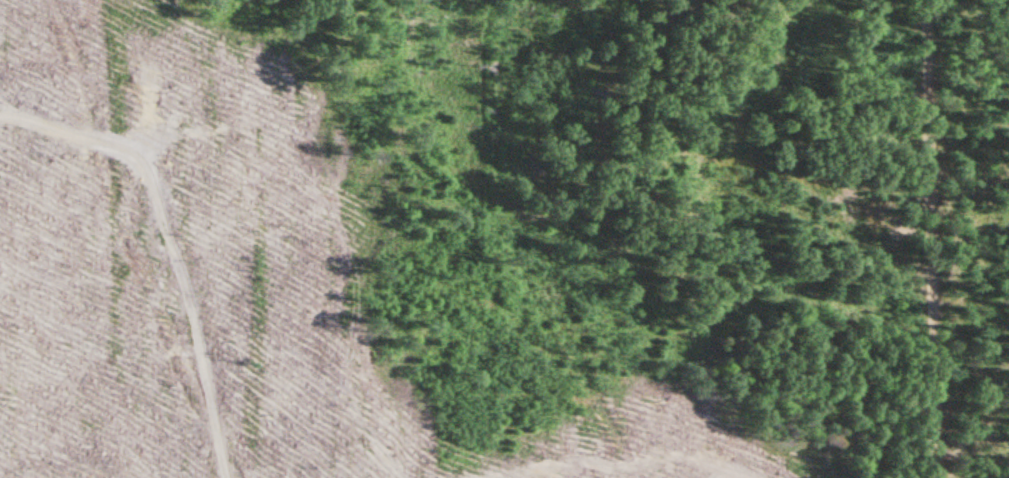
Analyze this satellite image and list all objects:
road: (937, 239)

